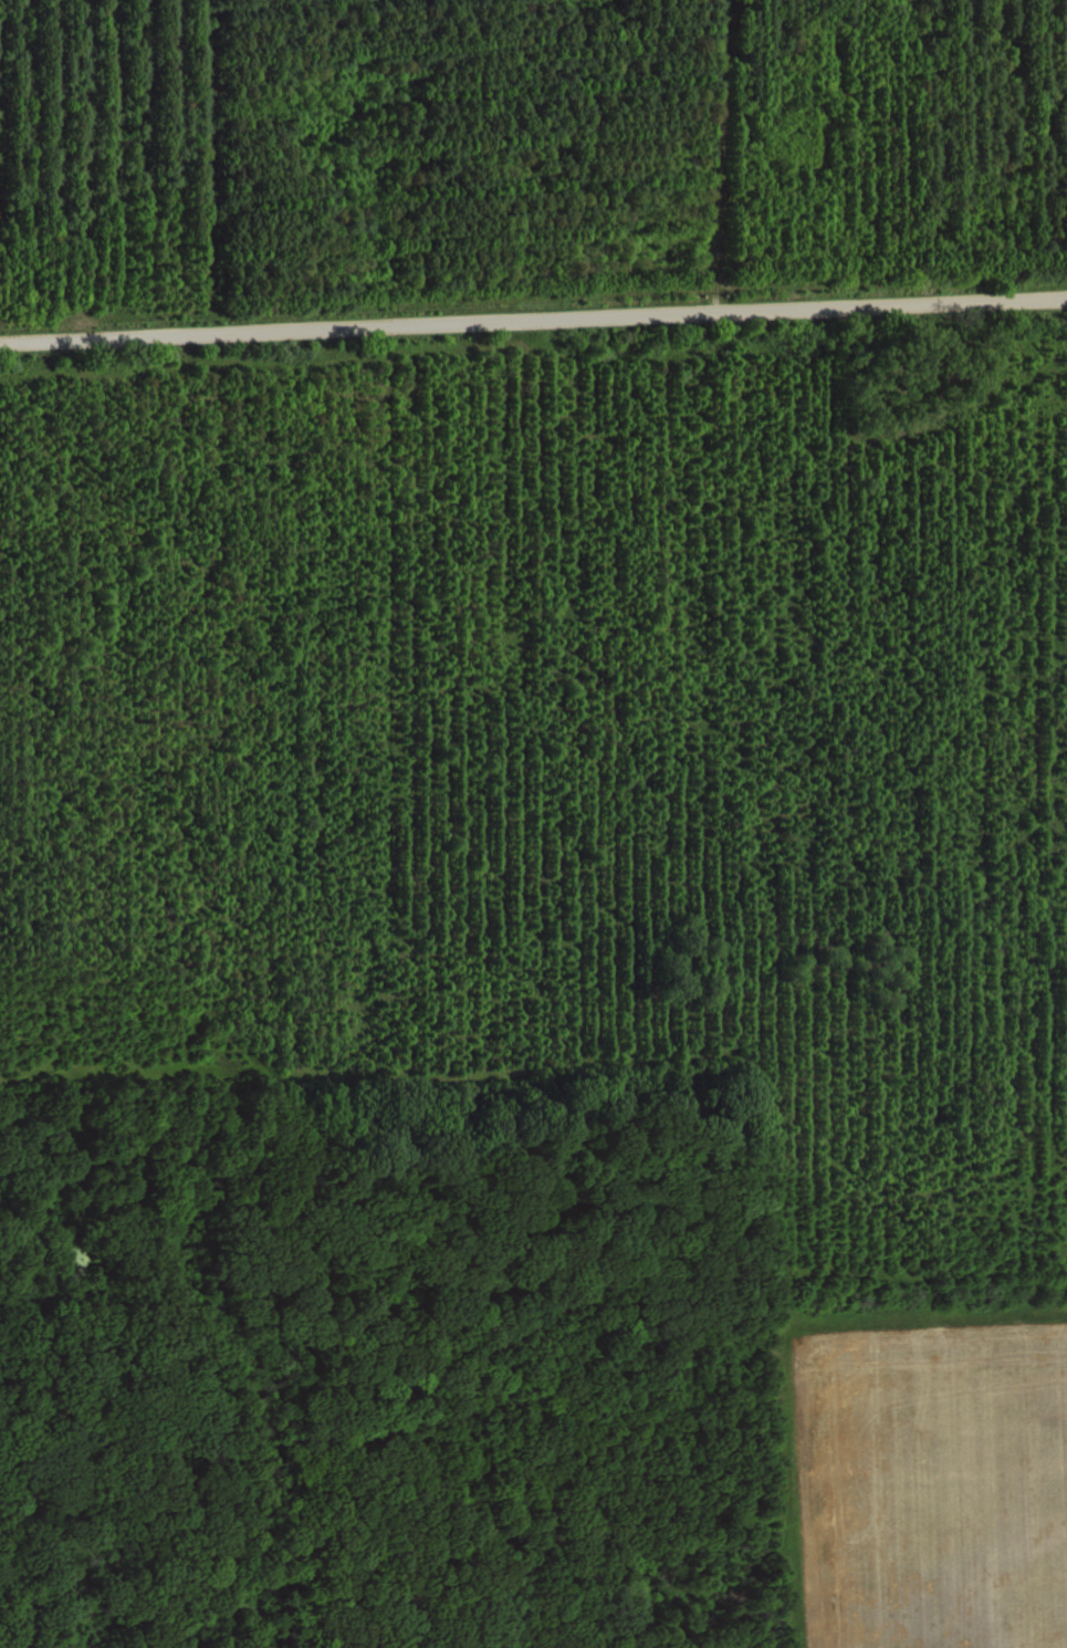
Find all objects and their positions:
road: (533, 320)

